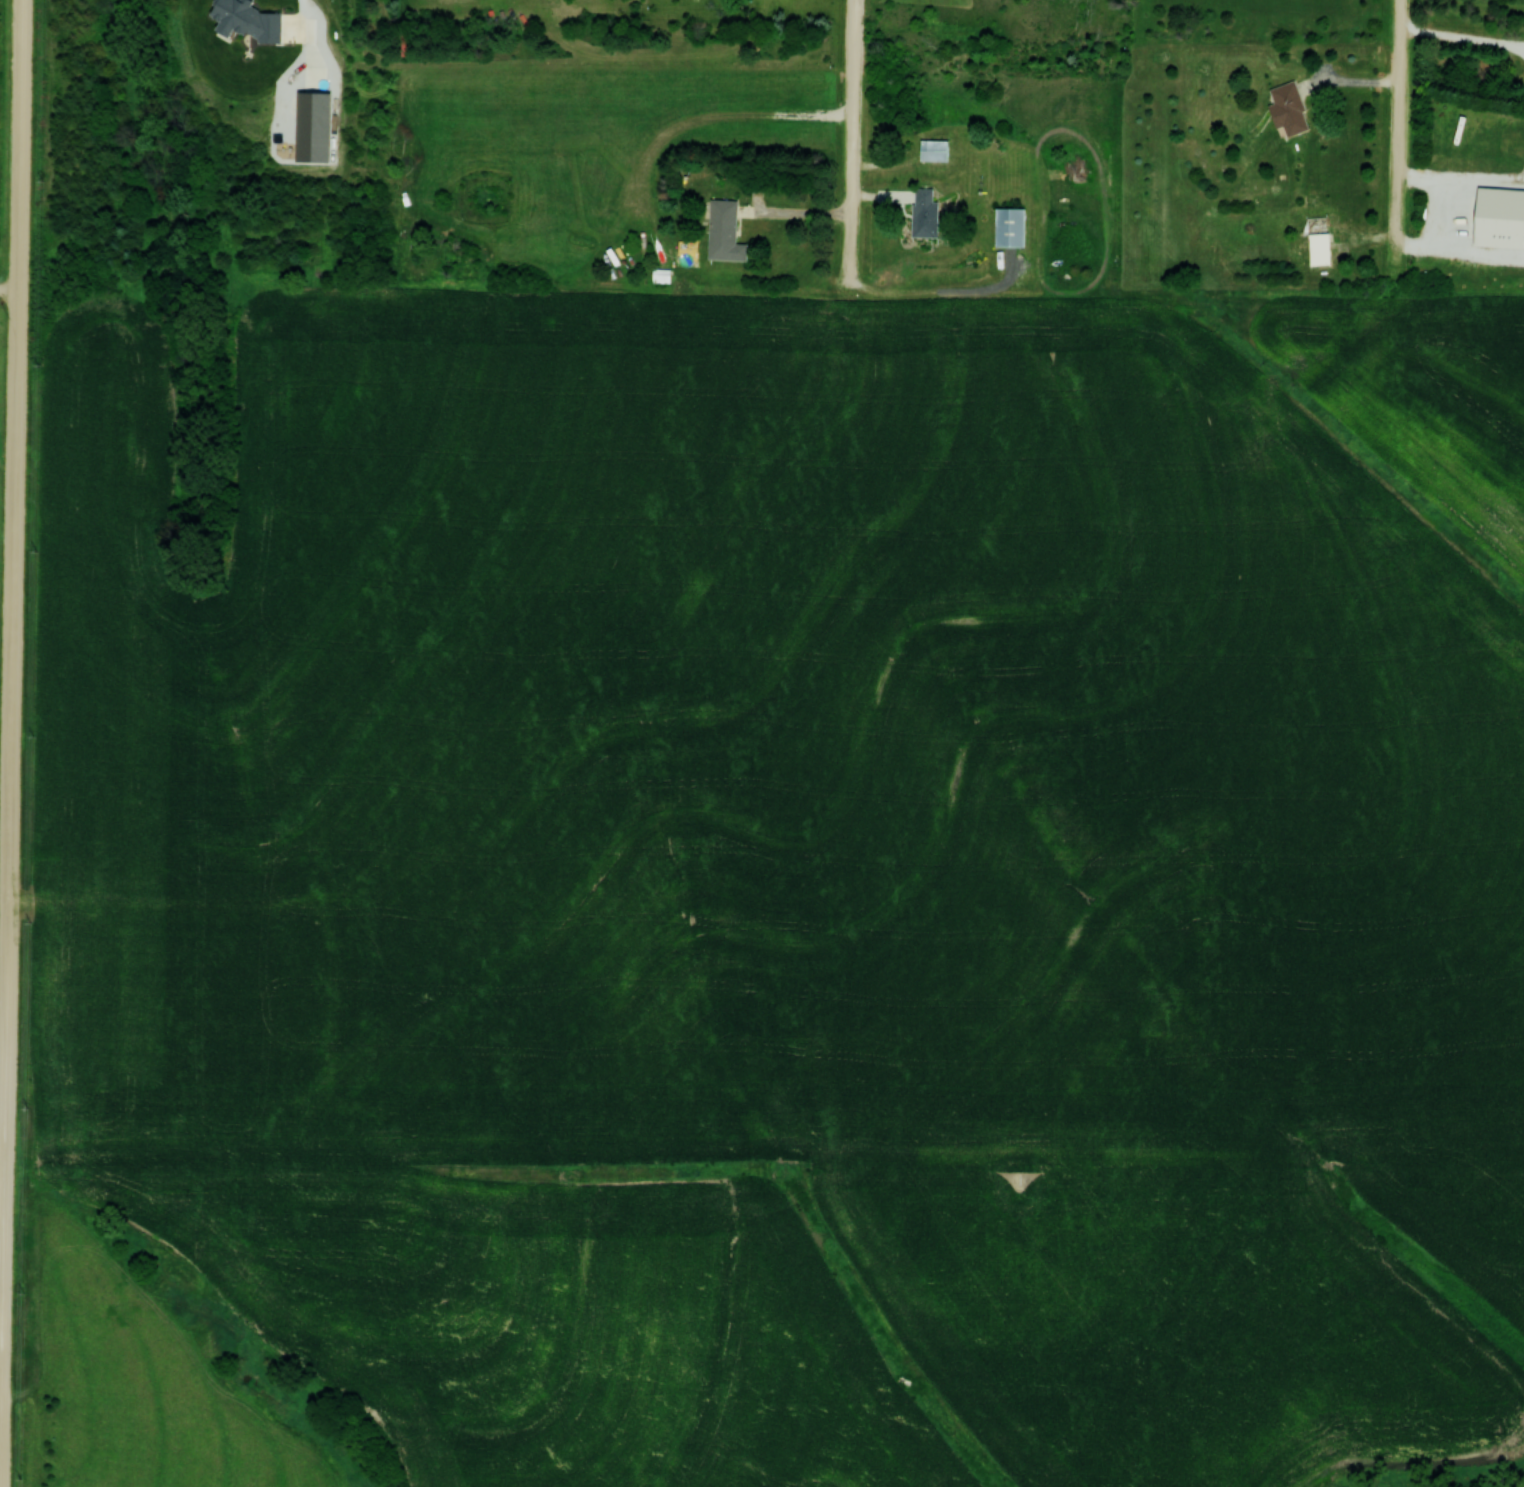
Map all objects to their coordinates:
building: (1288, 108)
road: (854, 136)
road: (1398, 138)
road: (19, 144)
building: (933, 149)
building: (891, 151)
building: (924, 211)
building: (1009, 226)
building: (724, 231)
building: (1318, 240)
building: (660, 275)
road: (8, 287)
road: (10, 724)
road: (2, 1292)

